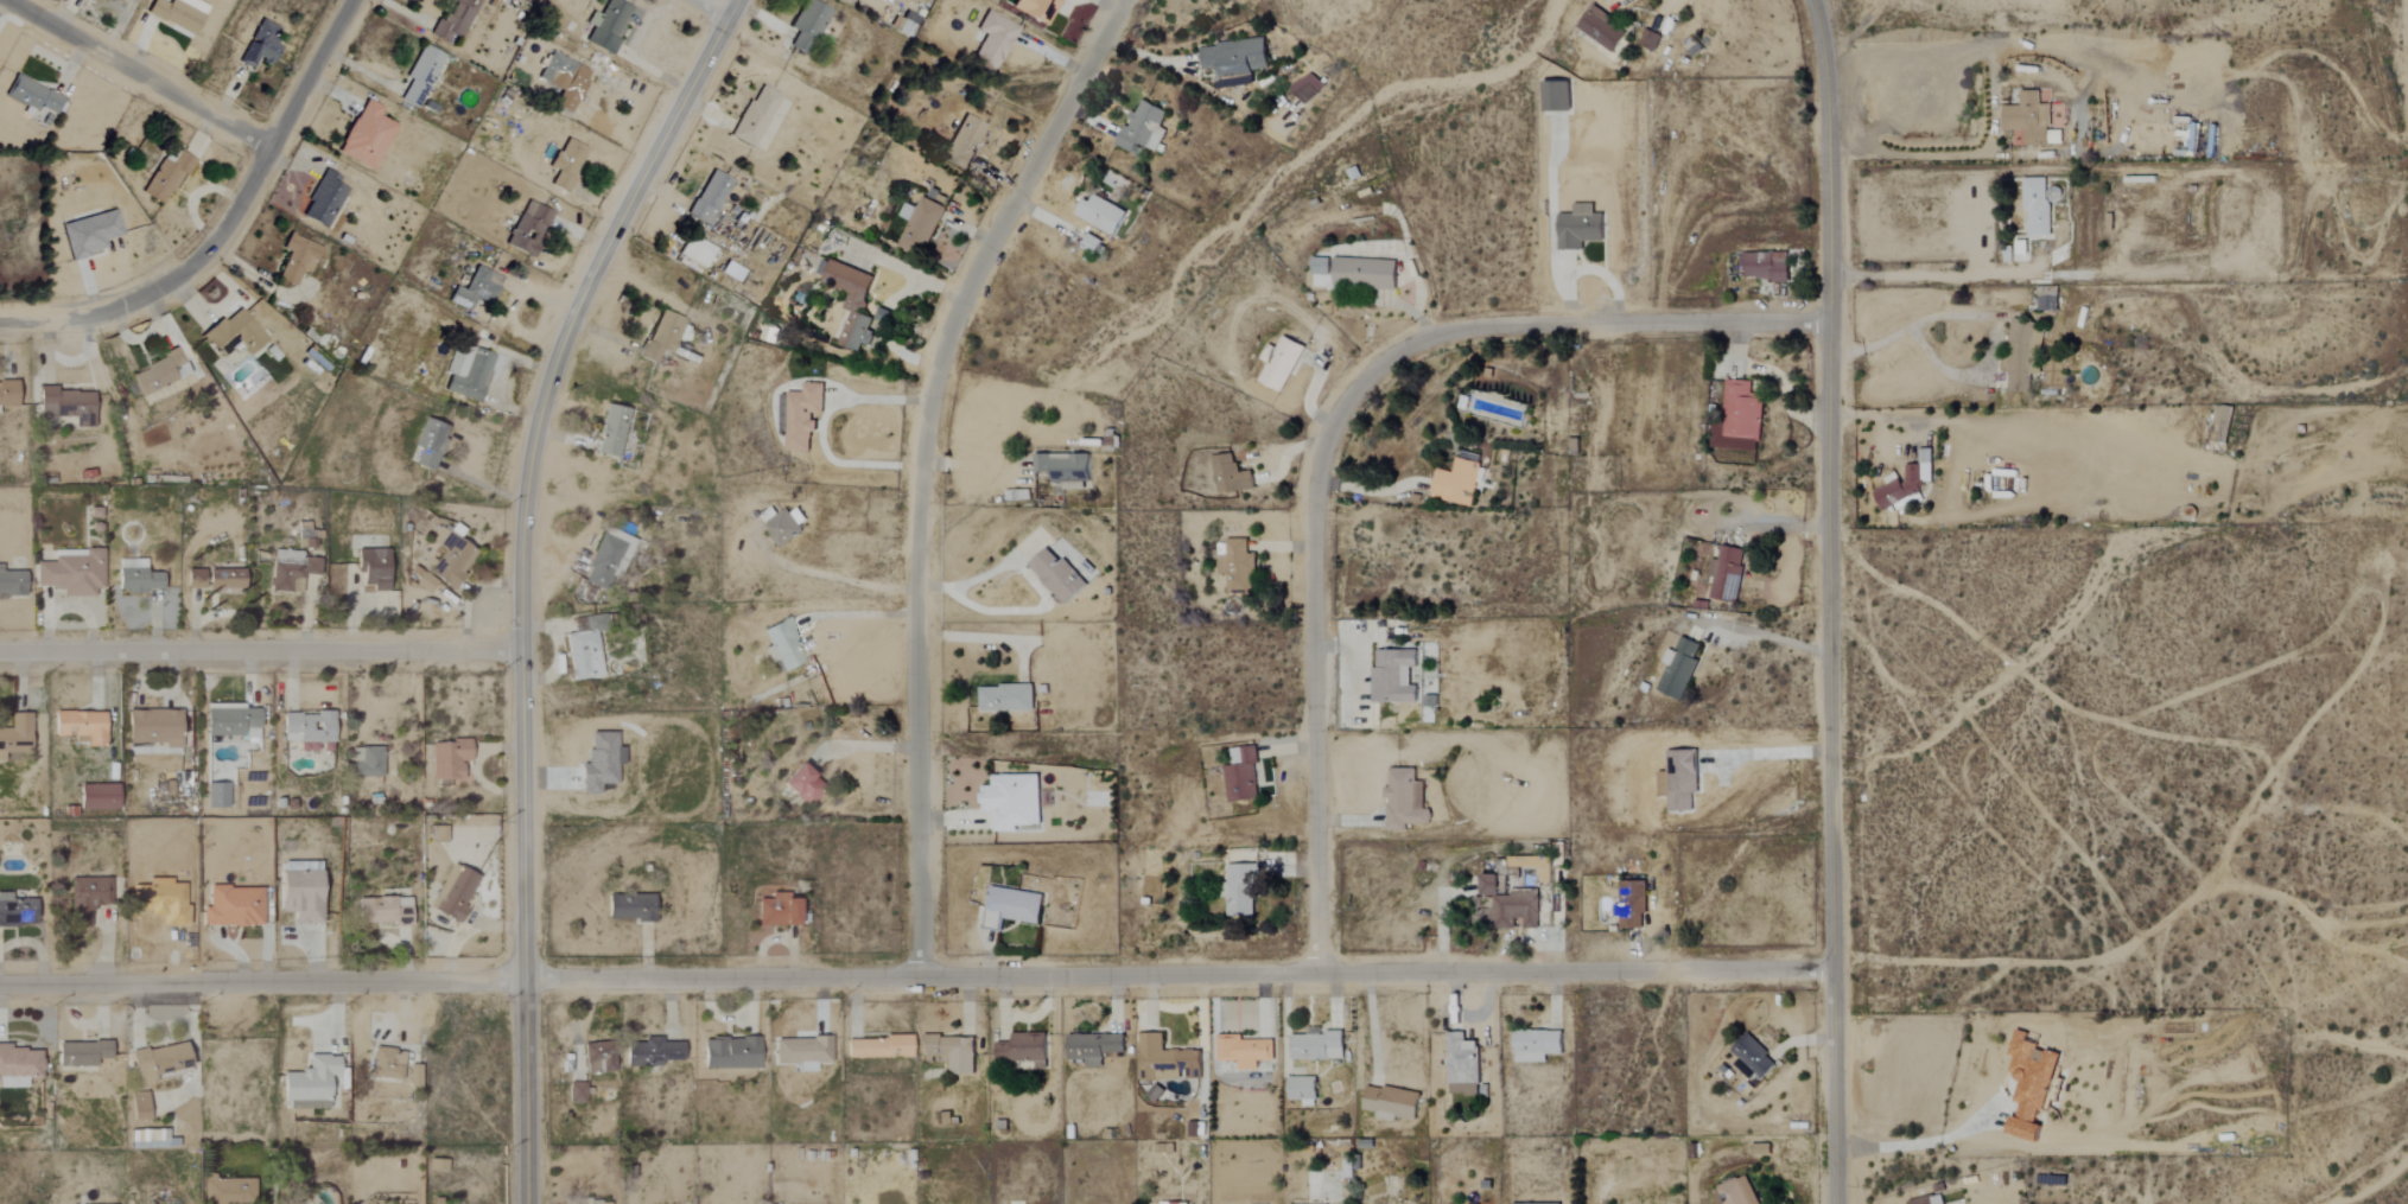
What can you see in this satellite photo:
road: (711, 9)
building: (1036, 9)
building: (178, 13)
building: (455, 19)
road: (1843, 21)
building: (608, 25)
building: (808, 25)
building: (897, 25)
building: (1601, 28)
building: (1647, 40)
building: (993, 42)
building: (260, 45)
building: (1234, 58)
building: (557, 71)
road: (138, 75)
building: (420, 76)
building: (1305, 88)
building: (1557, 97)
building: (33, 100)
building: (755, 116)
building: (2031, 121)
building: (1143, 127)
building: (366, 136)
building: (964, 142)
road: (1906, 154)
building: (566, 164)
building: (165, 179)
building: (710, 197)
building: (323, 200)
building: (2037, 209)
building: (1100, 215)
road: (223, 223)
building: (919, 227)
building: (1578, 228)
building: (528, 229)
building: (90, 234)
building: (695, 251)
building: (297, 260)
building: (1321, 267)
building: (1766, 267)
road: (901, 269)
building: (1364, 273)
road: (1921, 274)
building: (476, 288)
building: (2047, 299)
building: (851, 304)
road: (1977, 319)
road: (884, 332)
building: (234, 335)
building: (661, 336)
building: (2023, 356)
building: (1282, 364)
building: (158, 374)
building: (468, 375)
building: (7, 394)
building: (68, 406)
building: (802, 416)
building: (1743, 418)
road: (1919, 422)
building: (2222, 422)
road: (819, 428)
building: (611, 432)
road: (1332, 434)
building: (428, 444)
road: (923, 466)
building: (1063, 470)
building: (1230, 476)
building: (1457, 483)
building: (1906, 484)
road: (1372, 491)
building: (786, 525)
building: (450, 558)
building: (605, 559)
building: (1239, 566)
building: (371, 568)
building: (71, 572)
building: (1729, 573)
building: (1056, 575)
building: (136, 576)
building: (224, 576)
building: (193, 578)
road: (521, 578)
road: (828, 578)
building: (422, 579)
road: (1033, 581)
building: (12, 582)
road: (1830, 601)
road: (1691, 610)
building: (782, 644)
building: (585, 646)
road: (260, 652)
building: (1680, 668)
building: (1393, 676)
building: (1004, 697)
building: (231, 720)
building: (80, 726)
building: (154, 726)
building: (306, 728)
building: (15, 735)
road: (1772, 754)
building: (450, 758)
building: (599, 762)
building: (368, 763)
building: (1243, 778)
building: (1679, 779)
building: (802, 783)
building: (216, 795)
building: (97, 796)
building: (1404, 801)
building: (1011, 802)
building: (1240, 888)
building: (88, 893)
building: (453, 893)
building: (301, 896)
building: (1510, 905)
building: (1631, 905)
building: (233, 906)
building: (629, 907)
building: (1011, 907)
building: (383, 910)
building: (776, 910)
building: (15, 911)
road: (916, 979)
building: (1536, 1045)
building: (1316, 1046)
building: (879, 1047)
building: (1093, 1047)
building: (1023, 1050)
building: (1241, 1051)
building: (653, 1052)
building: (951, 1052)
building: (81, 1053)
building: (731, 1053)
building: (598, 1057)
building: (1164, 1059)
building: (1752, 1059)
building: (158, 1062)
building: (387, 1063)
building: (19, 1065)
building: (1461, 1065)
building: (413, 1076)
building: (310, 1084)
building: (2029, 1084)
building: (1302, 1090)
building: (576, 1092)
building: (1391, 1103)
building: (139, 1107)
building: (147, 1139)
road: (1926, 1141)
building: (228, 1191)
building: (1736, 1192)
building: (1930, 1198)
building: (1169, 1203)
building: (1540, 1203)

